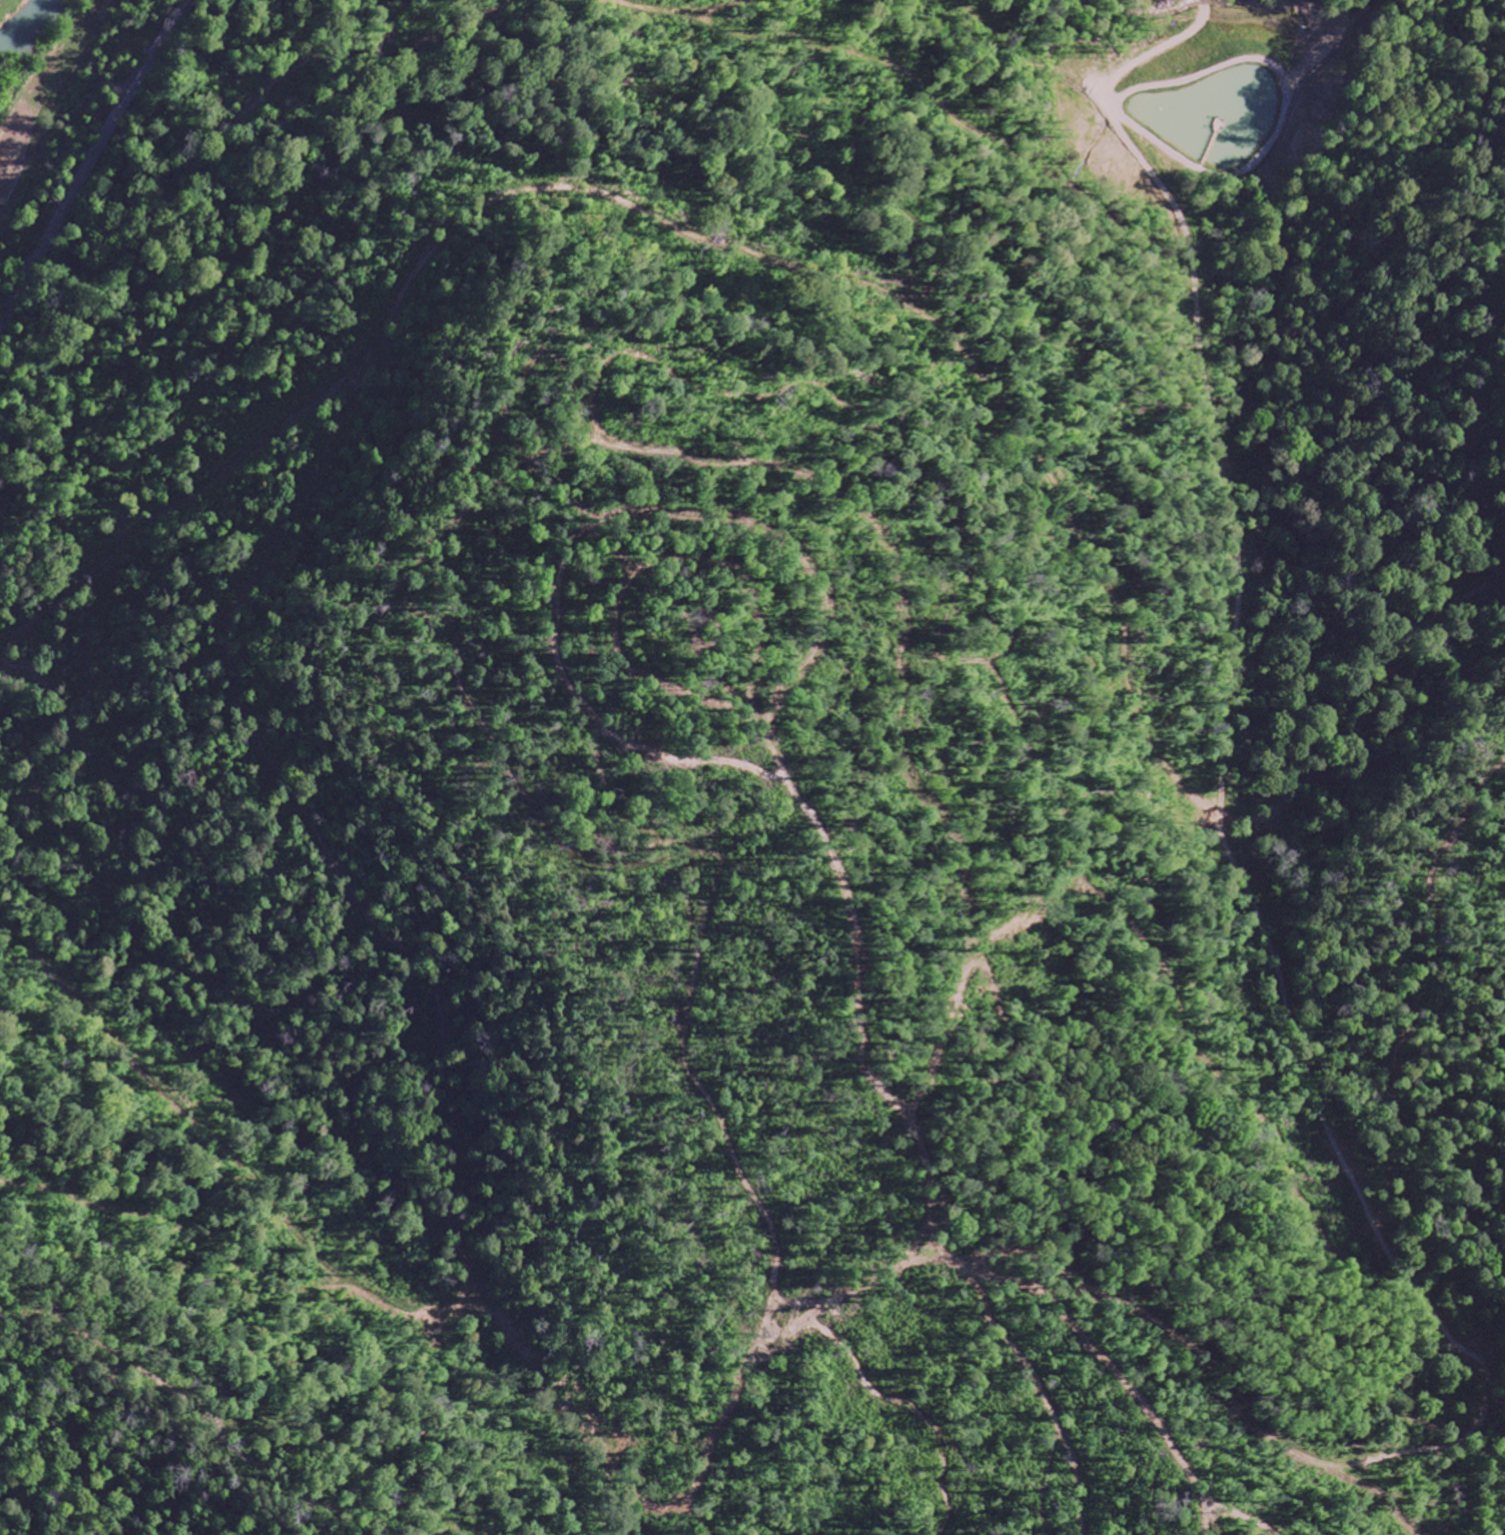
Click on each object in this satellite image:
road: (91, 160)

